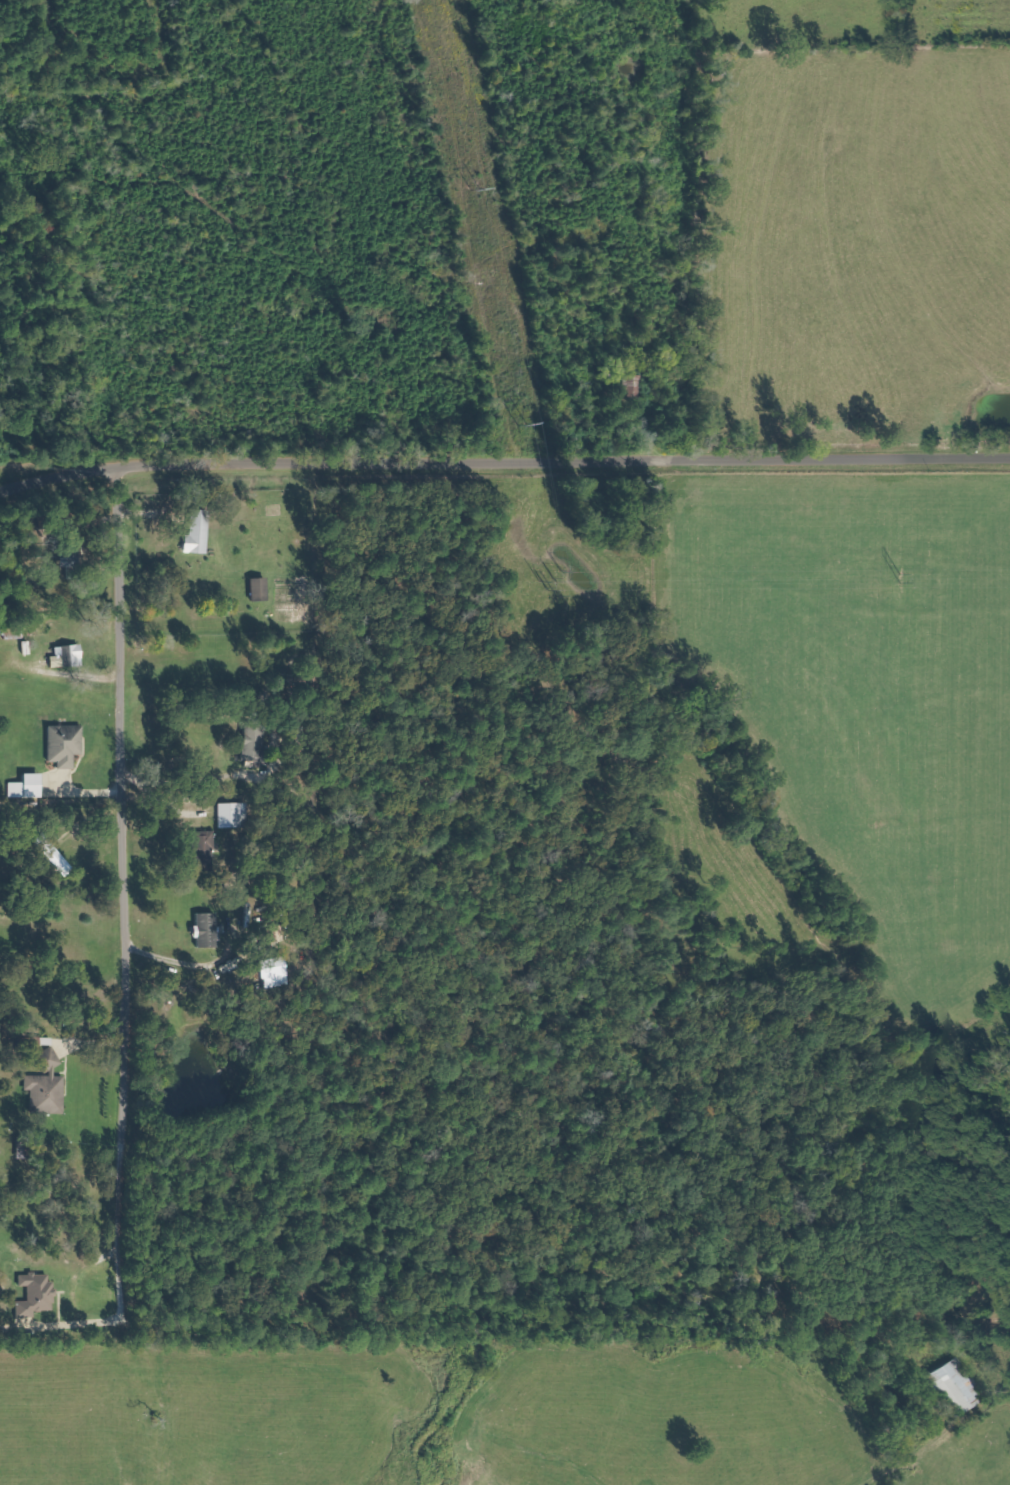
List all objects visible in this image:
power tower: (481, 190)
power tower: (530, 425)
road: (503, 462)
building: (201, 532)
power tower: (901, 579)
power tower: (555, 582)
building: (262, 589)
building: (70, 656)
building: (256, 743)
building: (67, 745)
building: (30, 787)
building: (235, 815)
building: (206, 849)
building: (56, 854)
road: (122, 890)
building: (209, 930)
building: (49, 1092)
building: (39, 1295)
building: (960, 1386)

